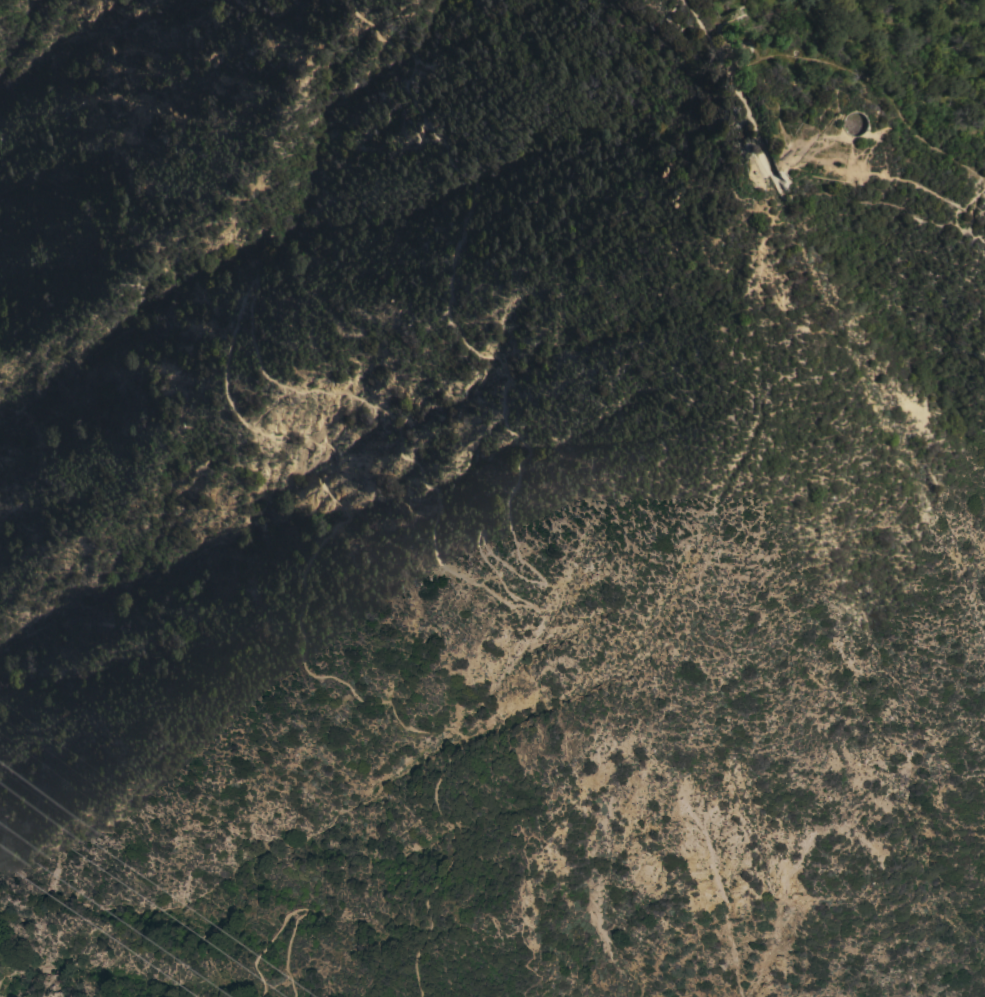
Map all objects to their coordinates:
road: (726, 81)
road: (963, 165)
railway: (760, 175)
road: (977, 210)
road: (402, 442)
power tower: (92, 904)
road: (291, 920)

